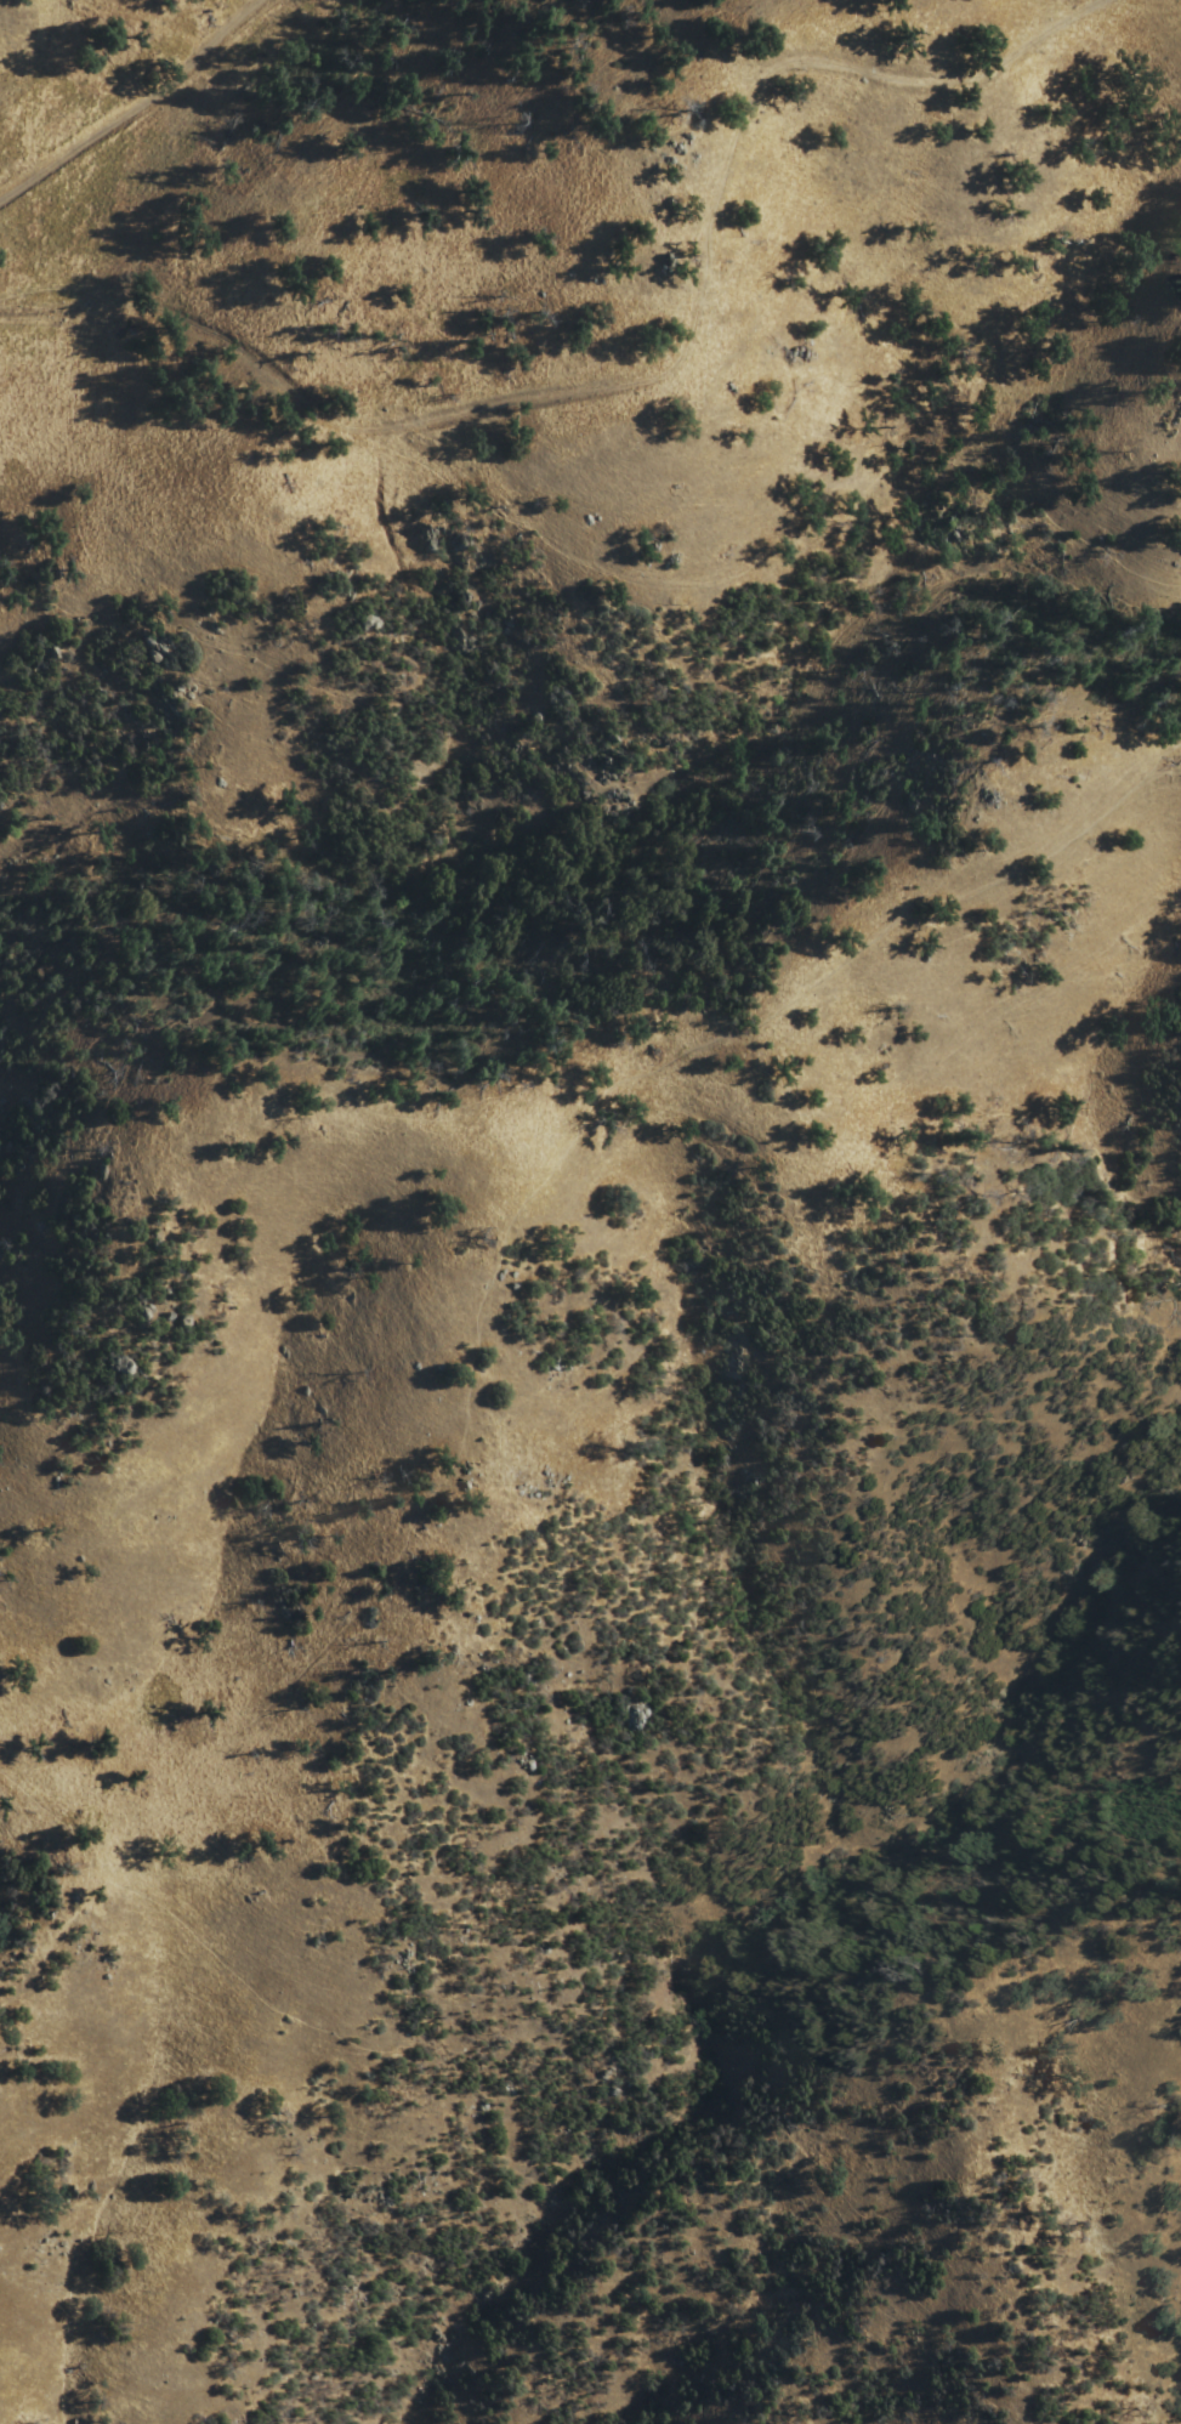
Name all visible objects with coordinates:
road: (151, 112)

